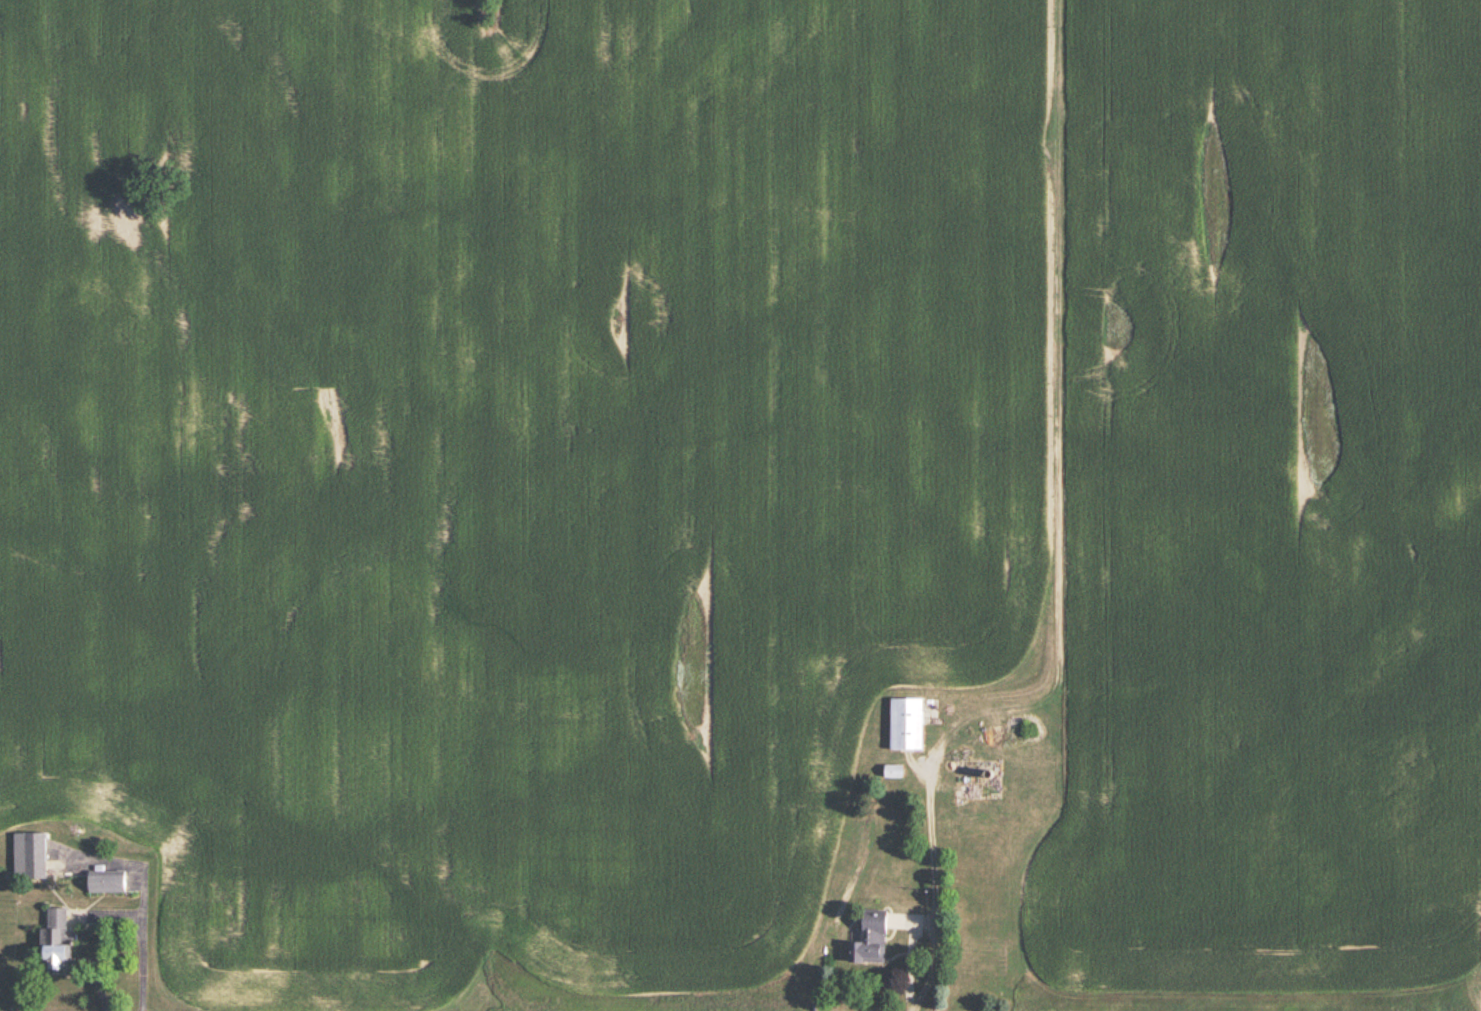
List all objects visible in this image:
building: (906, 725)
building: (29, 856)
building: (106, 882)
road: (934, 889)
road: (120, 915)
building: (871, 939)
building: (55, 940)
road: (909, 964)

